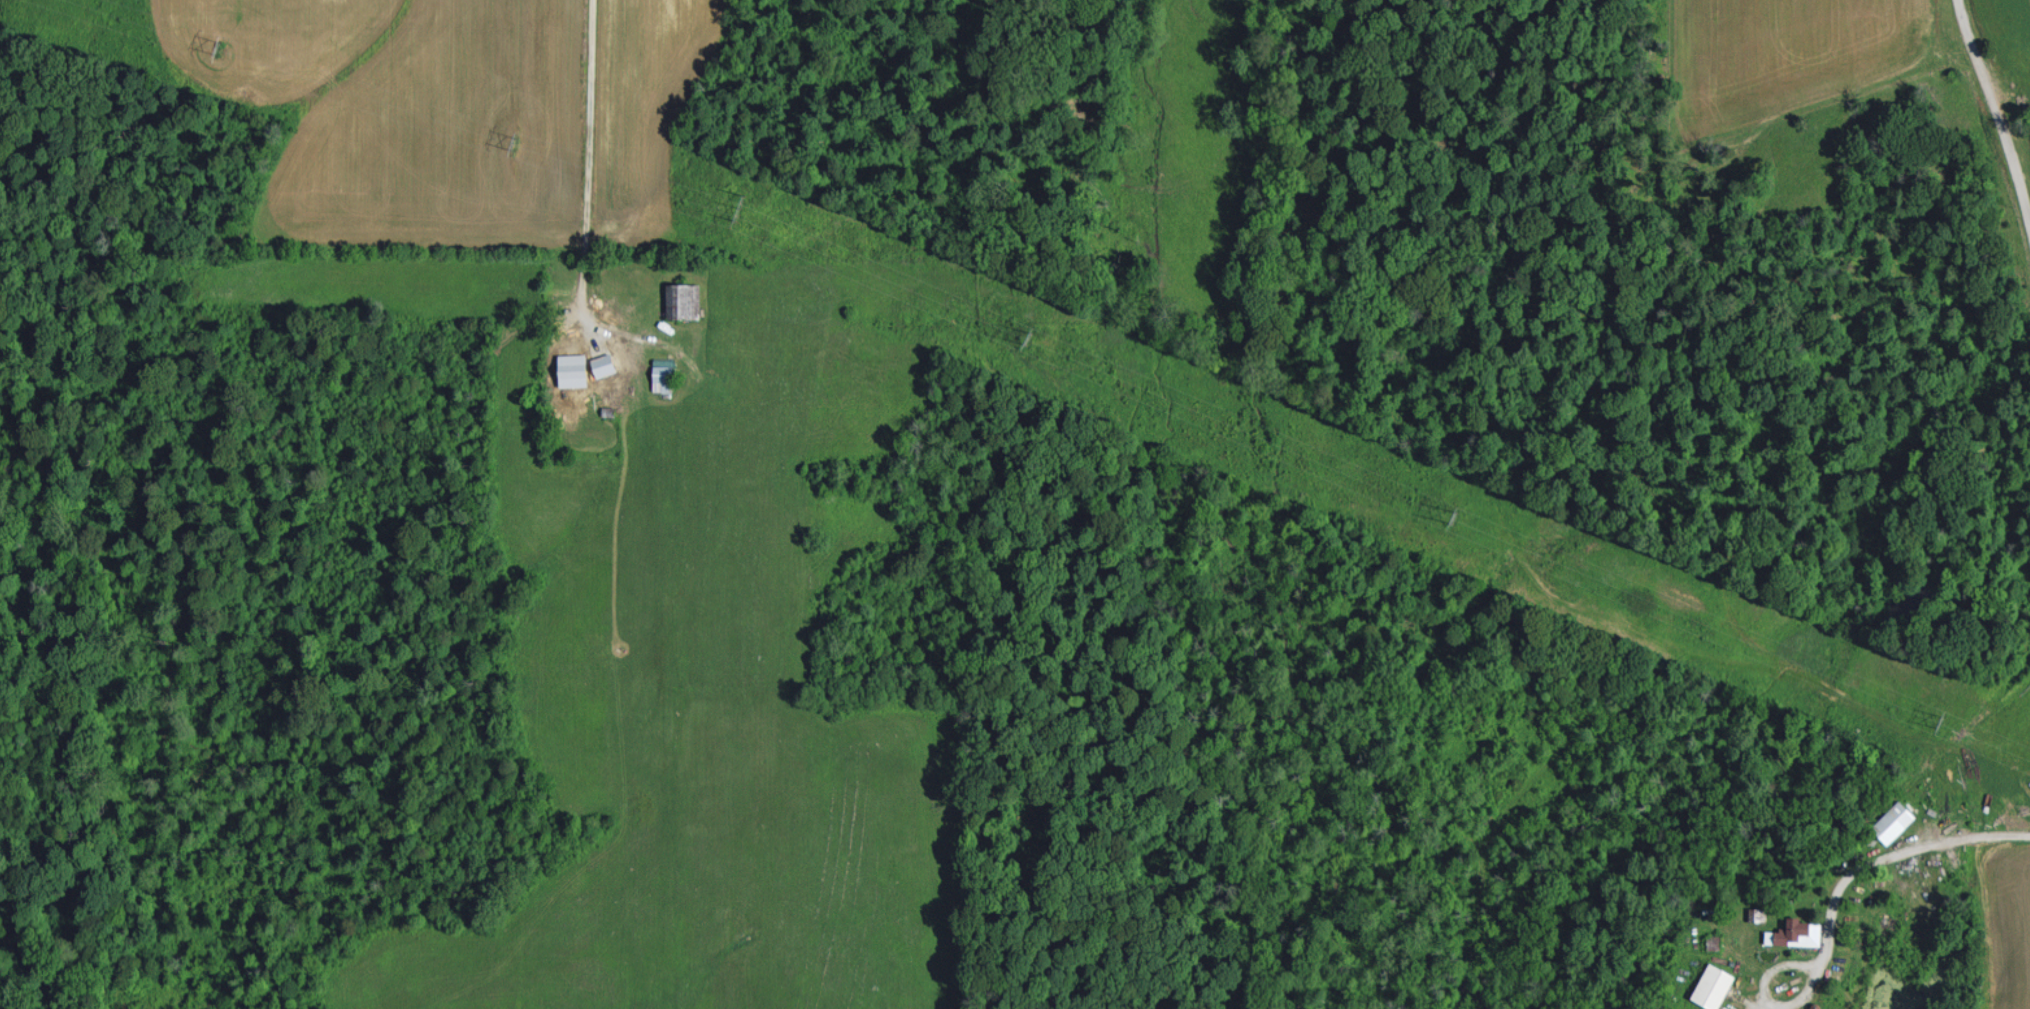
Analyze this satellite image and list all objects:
power tower: (220, 48)
road: (1998, 133)
power tower: (518, 144)
road: (587, 147)
power tower: (728, 216)
building: (684, 300)
power tower: (1032, 338)
building: (664, 374)
building: (570, 378)
power tower: (1454, 514)
power tower: (1940, 720)
building: (1895, 821)
road: (1889, 853)
building: (1798, 933)
building: (1715, 987)
road: (1792, 1006)
road: (1763, 1007)

